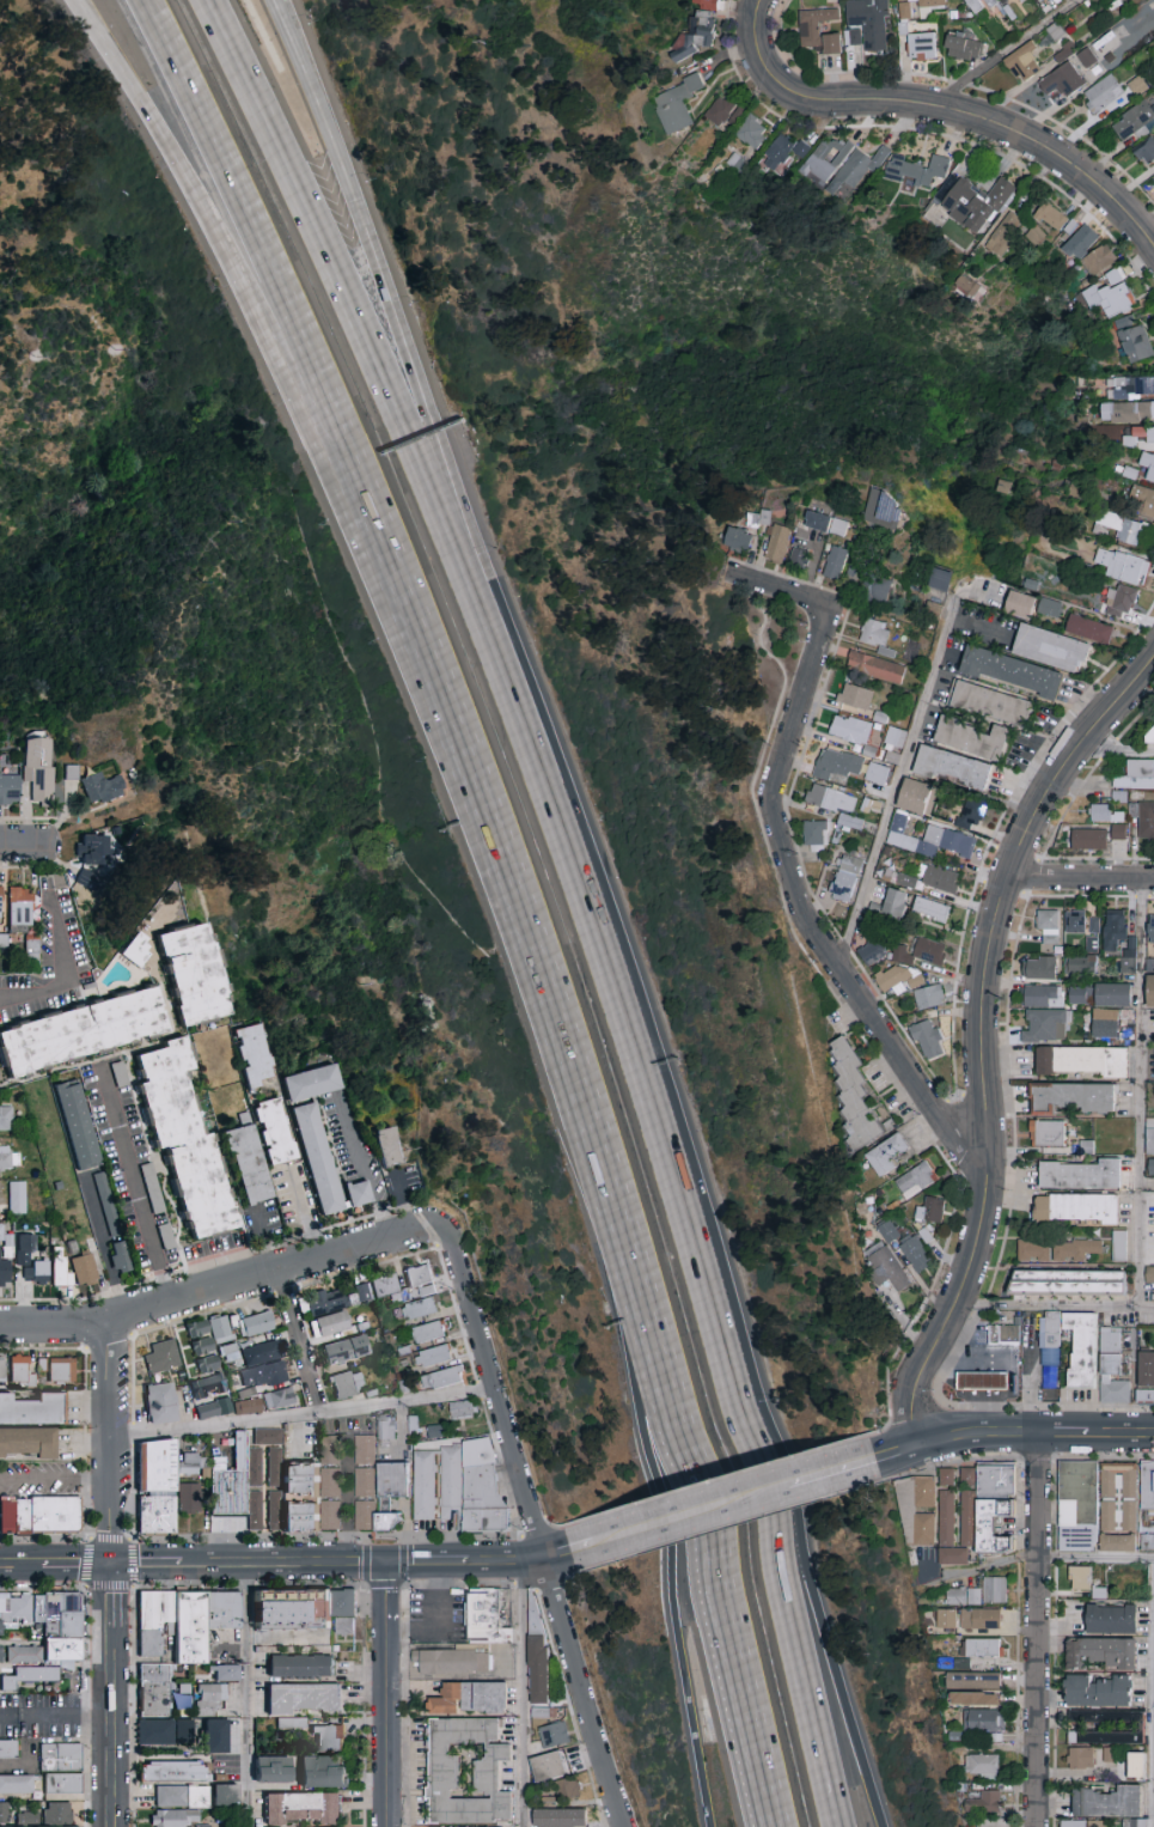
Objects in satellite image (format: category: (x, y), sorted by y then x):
building: (1021, 0)
building: (989, 2)
building: (708, 5)
building: (973, 5)
building: (928, 7)
building: (868, 20)
building: (817, 30)
building: (697, 32)
building: (854, 36)
building: (921, 45)
building: (961, 47)
road: (1005, 51)
building: (1086, 56)
building: (1022, 62)
building: (1062, 80)
building: (1136, 85)
building: (1101, 92)
road: (808, 99)
building: (676, 104)
building: (722, 111)
building: (1134, 121)
building: (751, 130)
building: (1146, 150)
building: (784, 152)
road: (1057, 156)
building: (825, 159)
building: (855, 170)
building: (915, 171)
building: (971, 201)
building: (1050, 215)
building: (1003, 232)
building: (1080, 242)
building: (1098, 260)
road: (225, 267)
road: (248, 268)
building: (1115, 276)
road: (378, 278)
road: (332, 280)
building: (1110, 298)
building: (1132, 339)
building: (1131, 388)
building: (1130, 412)
building: (1143, 432)
building: (1147, 463)
building: (1141, 499)
building: (881, 507)
building: (759, 517)
building: (817, 519)
building: (837, 525)
building: (1123, 526)
building: (737, 538)
building: (777, 542)
building: (799, 555)
building: (834, 561)
building: (1128, 567)
building: (939, 578)
building: (877, 587)
building: (1077, 589)
building: (1118, 601)
building: (1019, 603)
building: (1049, 605)
building: (1088, 628)
building: (874, 632)
building: (1049, 646)
building: (885, 651)
building: (874, 665)
building: (1009, 669)
building: (855, 695)
building: (989, 701)
building: (849, 729)
building: (1150, 736)
building: (893, 737)
building: (971, 737)
road: (1113, 753)
building: (836, 762)
building: (952, 766)
building: (41, 771)
building: (877, 772)
building: (73, 773)
building: (1136, 774)
building: (104, 787)
building: (10, 788)
road: (897, 790)
building: (915, 796)
building: (971, 811)
building: (1100, 811)
building: (1146, 818)
building: (849, 821)
building: (896, 828)
building: (814, 832)
building: (1118, 832)
building: (1088, 839)
road: (496, 840)
building: (945, 841)
road: (32, 844)
building: (90, 847)
road: (790, 858)
building: (84, 875)
road: (1080, 876)
building: (845, 877)
building: (940, 877)
building: (905, 879)
road: (1142, 899)
road: (1150, 899)
building: (891, 902)
building: (18, 905)
building: (929, 907)
road: (597, 916)
building: (1074, 920)
building: (1094, 924)
building: (1048, 925)
building: (1150, 927)
building: (1113, 930)
building: (1091, 943)
building: (132, 948)
building: (927, 950)
building: (871, 951)
building: (900, 954)
building: (1128, 961)
building: (1080, 963)
building: (1039, 967)
road: (63, 969)
building: (188, 972)
building: (899, 978)
building: (1149, 989)
building: (1112, 993)
building: (1076, 994)
building: (928, 995)
building: (1043, 995)
road: (851, 1021)
building: (1045, 1025)
building: (1104, 1027)
building: (79, 1028)
road: (982, 1034)
building: (926, 1039)
road: (1007, 1043)
building: (250, 1053)
building: (1082, 1059)
building: (1149, 1062)
building: (307, 1080)
road: (1140, 1094)
building: (854, 1096)
building: (1071, 1096)
building: (5, 1115)
building: (73, 1122)
building: (271, 1129)
building: (1049, 1133)
building: (181, 1138)
building: (1149, 1139)
building: (385, 1144)
building: (886, 1153)
building: (5, 1155)
building: (315, 1156)
building: (245, 1159)
road: (364, 1163)
building: (1149, 1167)
building: (1080, 1173)
building: (915, 1180)
road: (138, 1186)
building: (355, 1192)
building: (14, 1195)
building: (98, 1195)
building: (1075, 1206)
building: (929, 1210)
road: (304, 1214)
building: (887, 1230)
building: (166, 1237)
building: (1118, 1244)
building: (23, 1248)
building: (1073, 1248)
building: (1032, 1250)
road: (104, 1252)
building: (914, 1252)
building: (116, 1254)
building: (81, 1266)
building: (57, 1267)
building: (887, 1268)
building: (4, 1269)
building: (35, 1271)
building: (1149, 1273)
building: (419, 1277)
building: (1067, 1280)
building: (1153, 1284)
building: (384, 1286)
road: (233, 1289)
building: (358, 1292)
building: (319, 1301)
road: (982, 1304)
building: (419, 1308)
road: (1052, 1308)
building: (329, 1321)
building: (255, 1322)
building: (195, 1327)
building: (219, 1328)
building: (427, 1330)
road: (911, 1330)
building: (1005, 1335)
road: (303, 1342)
building: (200, 1345)
building: (1080, 1346)
building: (343, 1347)
building: (1050, 1348)
building: (260, 1351)
building: (160, 1354)
building: (432, 1356)
building: (206, 1362)
building: (16, 1366)
building: (1111, 1366)
building: (1, 1368)
building: (60, 1368)
building: (261, 1372)
building: (1144, 1376)
building: (439, 1377)
building: (981, 1380)
building: (347, 1382)
gas station: (983, 1382)
building: (206, 1386)
road: (1010, 1386)
building: (276, 1397)
building: (158, 1401)
building: (246, 1405)
building: (212, 1407)
road: (995, 1407)
building: (31, 1408)
building: (460, 1409)
road: (304, 1413)
road: (981, 1415)
road: (918, 1418)
building: (385, 1427)
road: (1063, 1433)
building: (267, 1435)
road: (1121, 1435)
building: (28, 1441)
road: (112, 1445)
building: (330, 1448)
building: (364, 1448)
building: (294, 1453)
road: (1036, 1458)
building: (254, 1464)
building: (189, 1467)
building: (160, 1472)
road: (813, 1476)
building: (945, 1476)
building: (966, 1476)
road: (56, 1478)
building: (392, 1478)
building: (1117, 1479)
building: (331, 1481)
building: (364, 1481)
road: (715, 1481)
building: (232, 1482)
building: (451, 1482)
building: (997, 1482)
building: (423, 1484)
building: (1147, 1486)
road: (651, 1491)
road: (688, 1491)
building: (484, 1493)
building: (1077, 1493)
road: (347, 1502)
building: (191, 1503)
building: (254, 1509)
building: (906, 1509)
building: (330, 1514)
building: (297, 1515)
building: (1117, 1515)
building: (372, 1516)
building: (945, 1517)
building: (159, 1518)
building: (47, 1520)
building: (982, 1522)
road: (552, 1525)
road: (728, 1527)
road: (536, 1529)
road: (541, 1534)
building: (1147, 1539)
building: (1117, 1542)
road: (804, 1551)
road: (780, 1552)
building: (952, 1555)
road: (1094, 1557)
road: (354, 1564)
traffic signals: (390, 1564)
road: (55, 1565)
traffic signals: (112, 1565)
road: (981, 1567)
road: (1016, 1573)
building: (1079, 1577)
road: (568, 1581)
road: (384, 1585)
road: (124, 1587)
road: (551, 1588)
road: (523, 1589)
building: (994, 1589)
road: (390, 1592)
road: (1054, 1592)
road: (112, 1596)
building: (963, 1596)
building: (347, 1604)
building: (294, 1609)
building: (16, 1610)
parking lot: (438, 1616)
building: (945, 1618)
building: (979, 1618)
building: (536, 1619)
building: (1110, 1619)
building: (488, 1620)
building: (187, 1621)
road: (441, 1622)
building: (347, 1627)
road: (1036, 1630)
building: (56, 1637)
building: (982, 1646)
road: (403, 1649)
building: (1100, 1652)
building: (1, 1655)
building: (26, 1655)
building: (454, 1662)
building: (960, 1663)
building: (303, 1667)
building: (539, 1670)
building: (227, 1673)
building: (971, 1680)
building: (157, 1689)
building: (185, 1689)
building: (1098, 1691)
road: (1152, 1692)
road: (524, 1693)
road: (249, 1695)
building: (305, 1698)
building: (973, 1698)
building: (212, 1699)
building: (474, 1699)
road: (569, 1706)
road: (56, 1713)
building: (543, 1713)
building: (983, 1719)
building: (294, 1724)
road: (390, 1724)
road: (114, 1726)
building: (1115, 1729)
building: (185, 1731)
building: (158, 1732)
building: (218, 1736)
building: (556, 1736)
building: (331, 1738)
building: (10, 1749)
building: (1107, 1754)
building: (1080, 1756)
building: (63, 1758)
building: (981, 1765)
building: (1136, 1765)
building: (550, 1767)
building: (275, 1771)
building: (175, 1772)
building: (326, 1773)
building: (447, 1776)
building: (18, 1784)
building: (65, 1784)
building: (569, 1790)
building: (227, 1796)
building: (184, 1797)
building: (983, 1802)
building: (1107, 1802)
building: (551, 1803)
building: (305, 1809)
building: (5, 1814)
building: (60, 1815)
building: (176, 1819)
building: (563, 1819)
building: (30, 1820)
building: (1132, 1822)
building: (1082, 1823)
building: (204, 1826)

